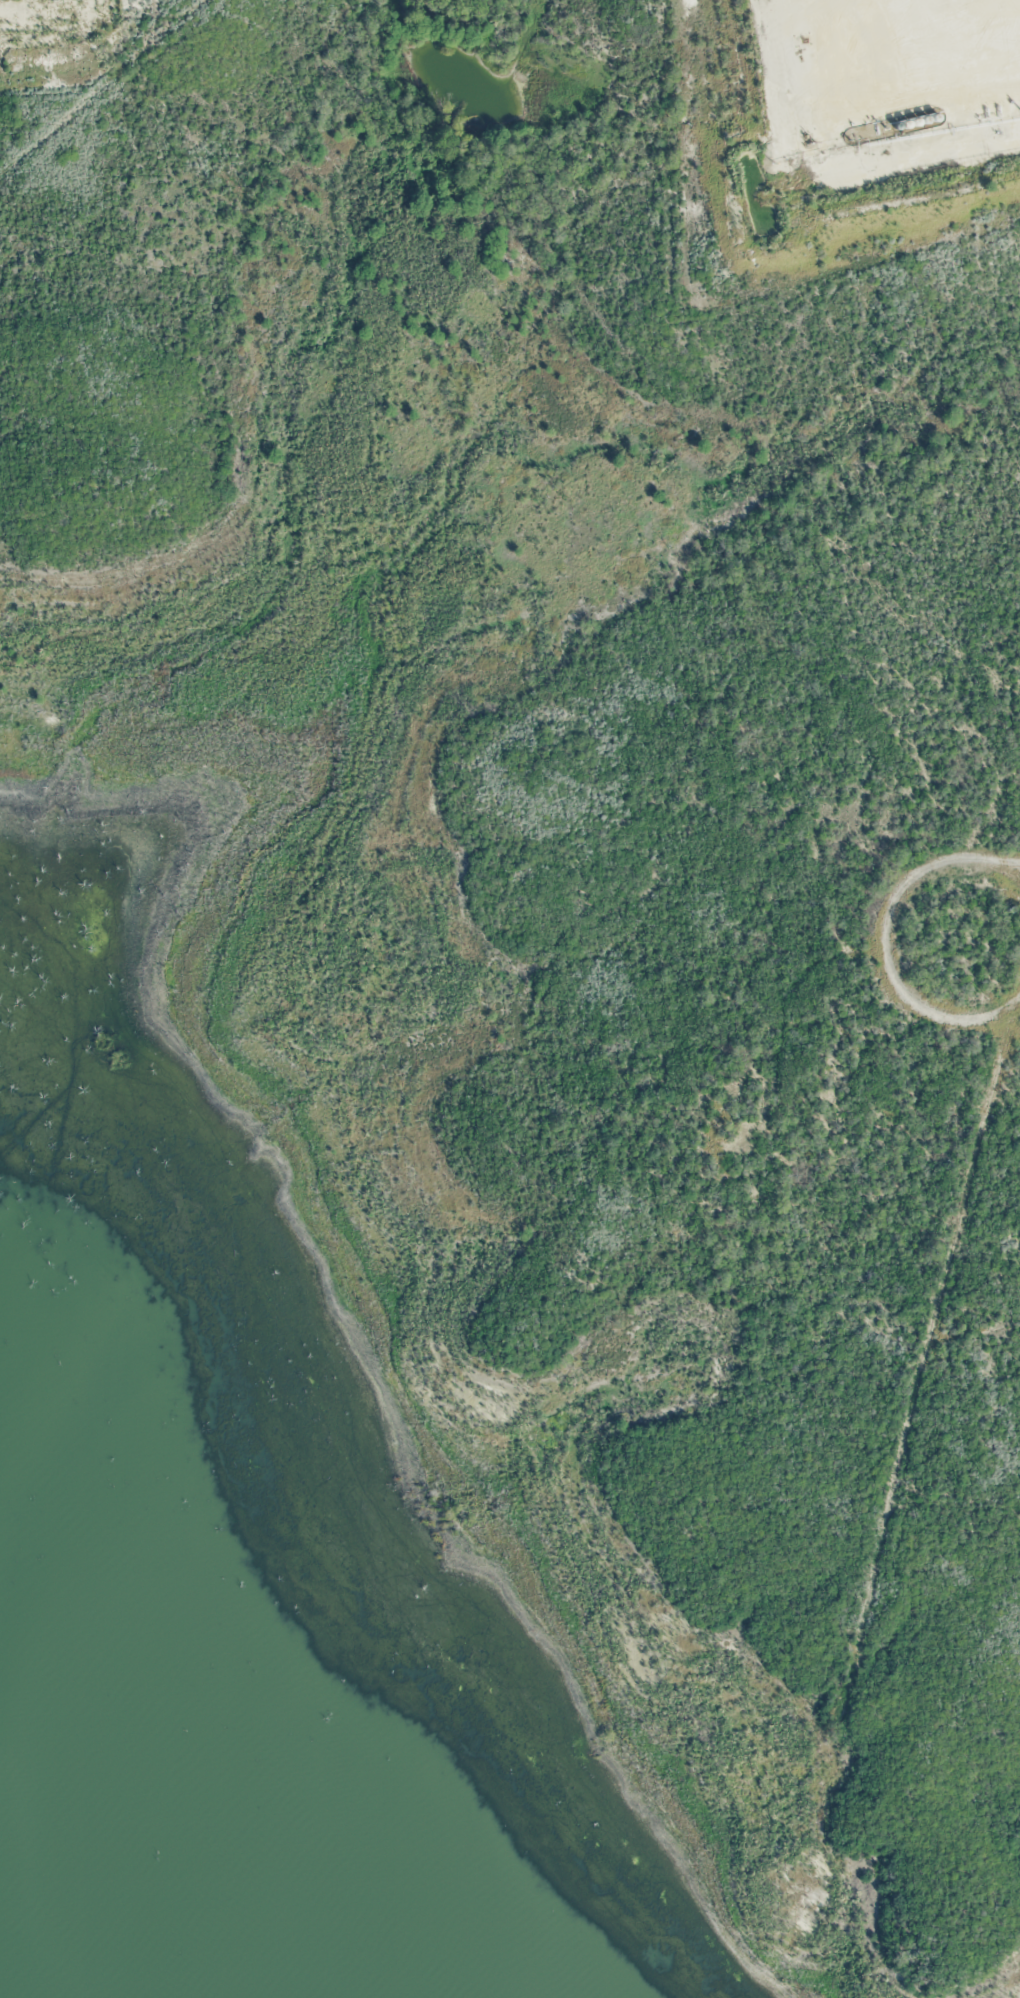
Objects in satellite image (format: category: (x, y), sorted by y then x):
road: (879, 943)

